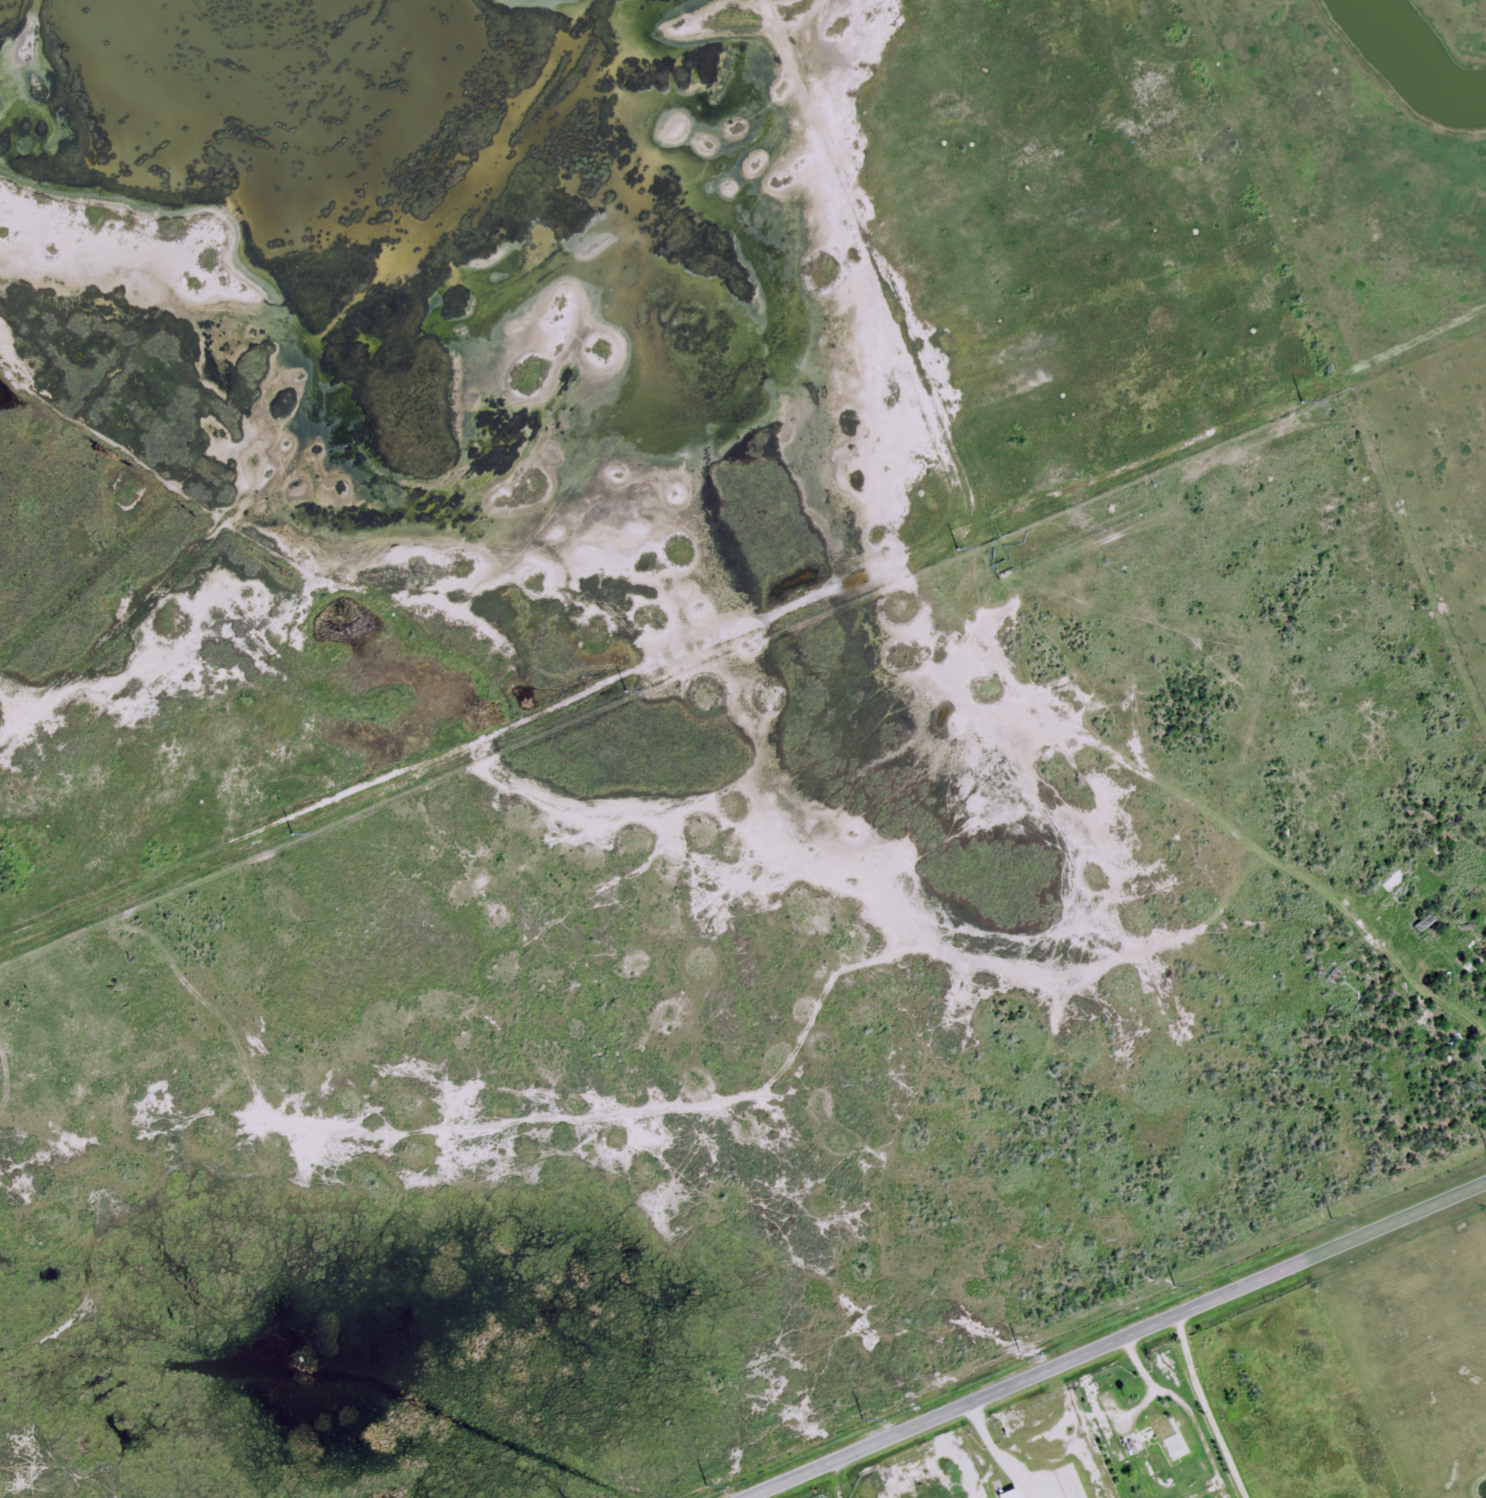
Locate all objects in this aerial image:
building: (1393, 881)
building: (1423, 923)
road: (1116, 1339)
building: (1132, 1440)
building: (1069, 1481)
building: (1008, 1493)

